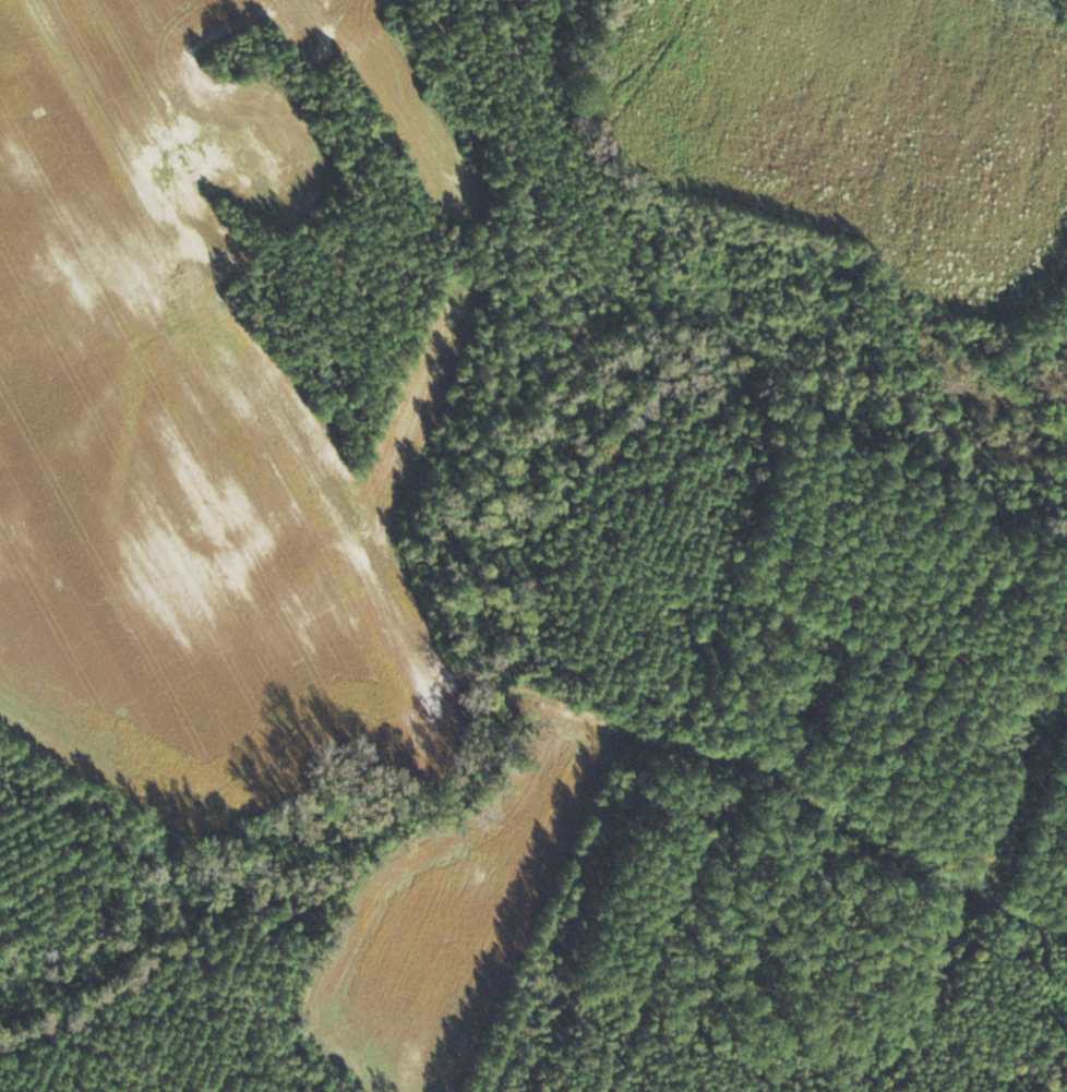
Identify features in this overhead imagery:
building: (1011, 953)

